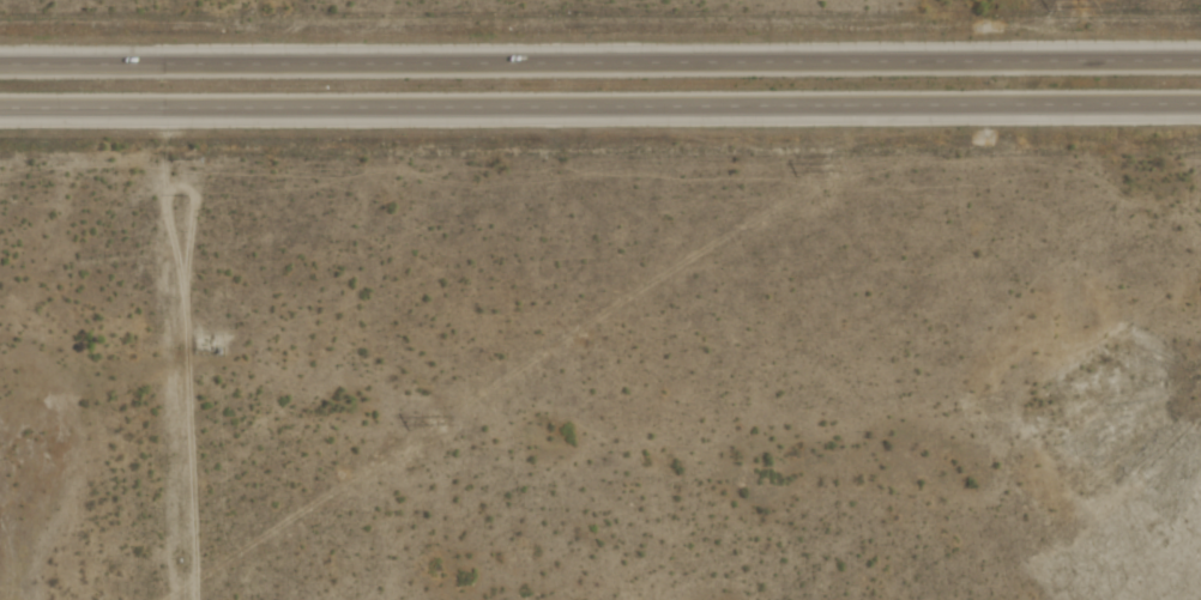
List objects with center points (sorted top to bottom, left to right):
power tower: (1075, 4)
road: (600, 62)
road: (600, 107)
power tower: (823, 168)
power tower: (439, 420)

